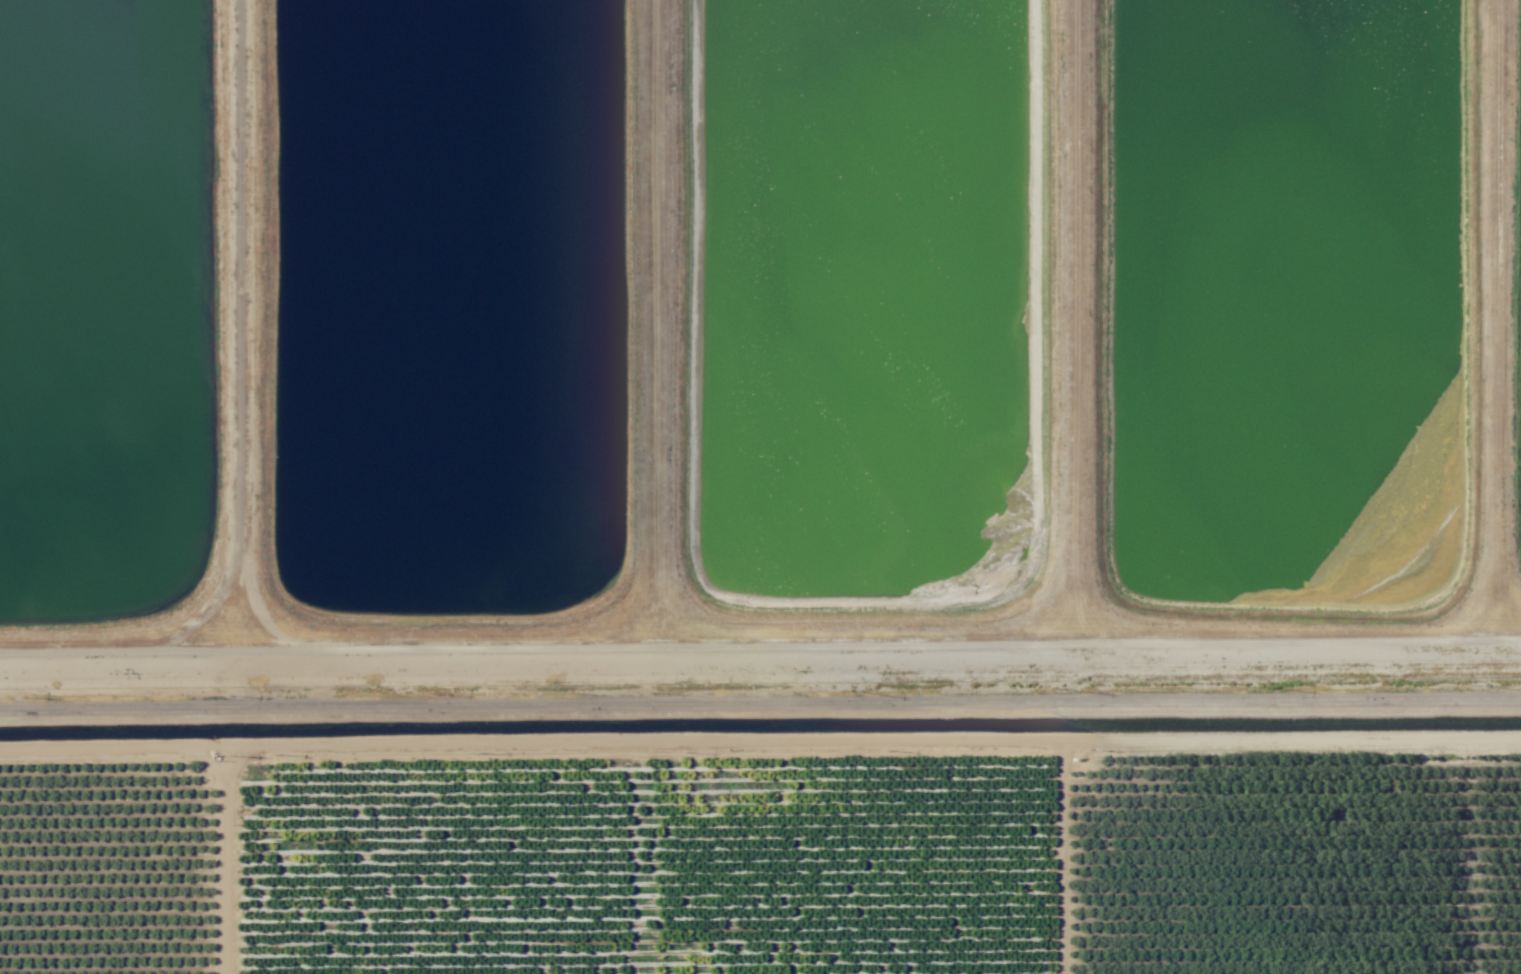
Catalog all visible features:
wastewater plant: (96, 298)
wastewater plant: (866, 299)
wastewater plant: (1292, 299)
wastewater plant: (451, 303)
road: (1501, 316)
road: (1077, 318)
road: (661, 320)
road: (237, 322)
wastewater plant: (759, 354)
road: (760, 639)
road: (760, 702)
road: (760, 741)

